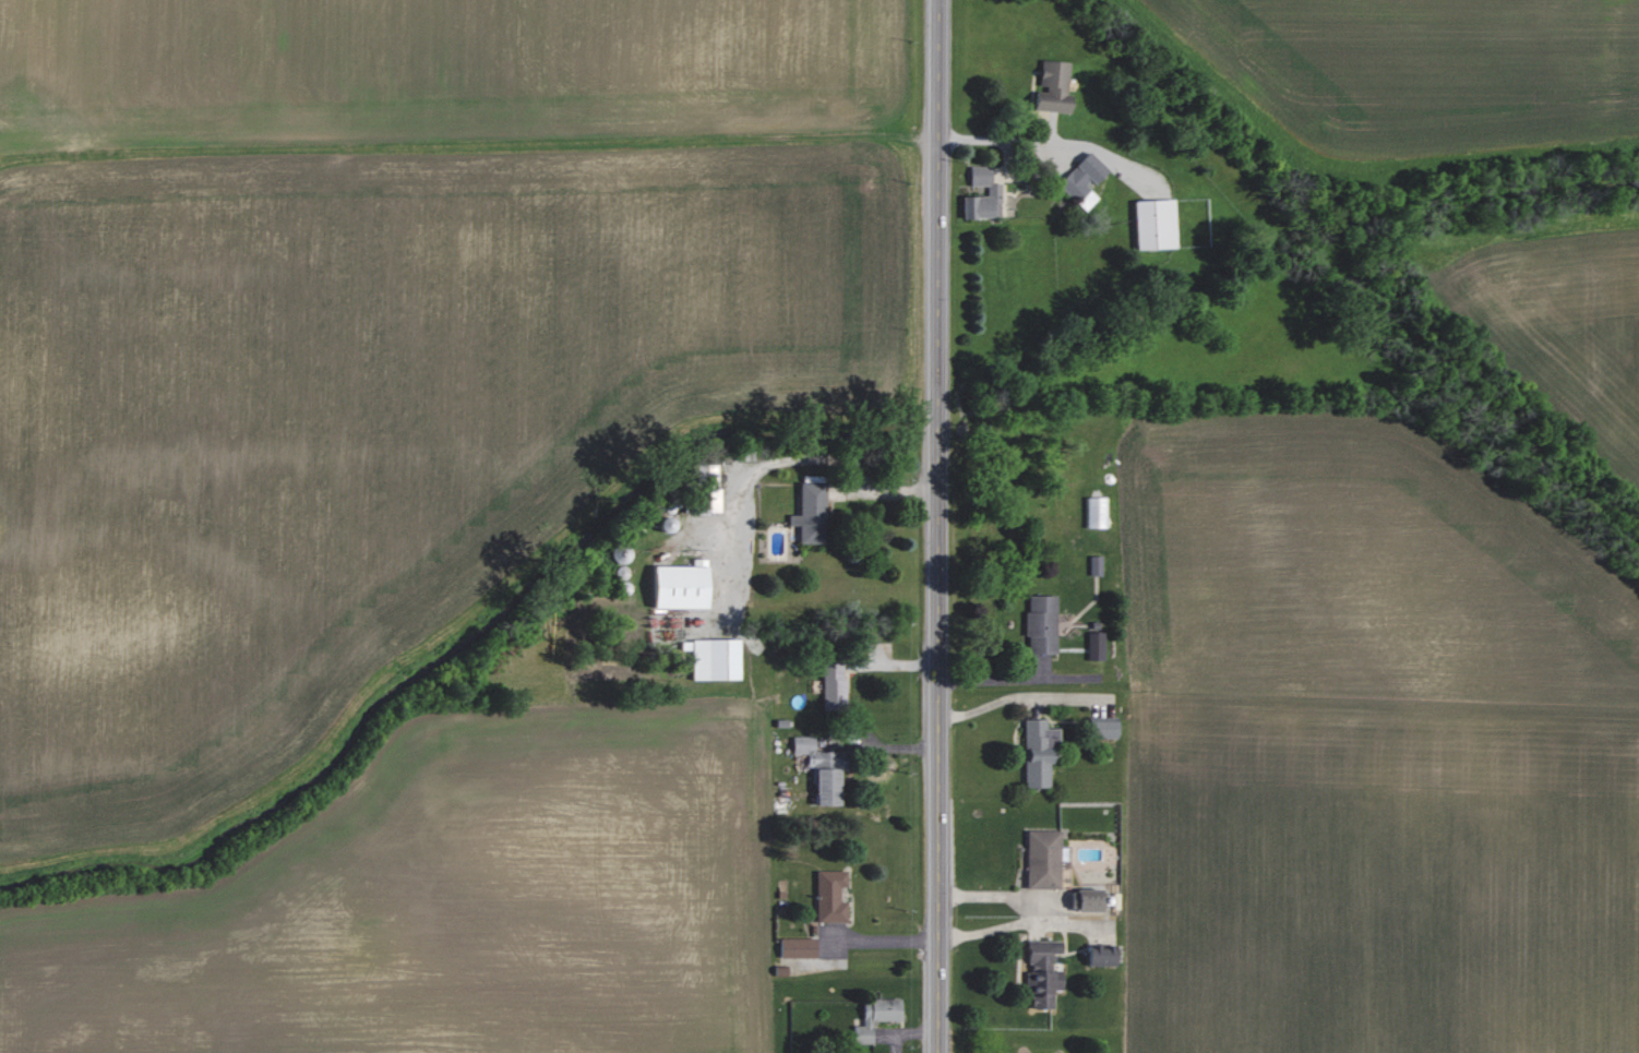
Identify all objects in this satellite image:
building: (1052, 87)
building: (1081, 179)
building: (993, 191)
building: (1155, 224)
building: (708, 499)
building: (1096, 511)
building: (810, 512)
road: (938, 526)
building: (1094, 564)
building: (679, 584)
building: (1040, 622)
building: (1094, 645)
building: (715, 658)
building: (833, 683)
building: (1101, 726)
building: (1038, 751)
building: (820, 768)
building: (1042, 859)
building: (829, 896)
building: (1085, 898)
building: (797, 947)
building: (1100, 954)
building: (1042, 971)
building: (874, 1016)
building: (1026, 1052)

